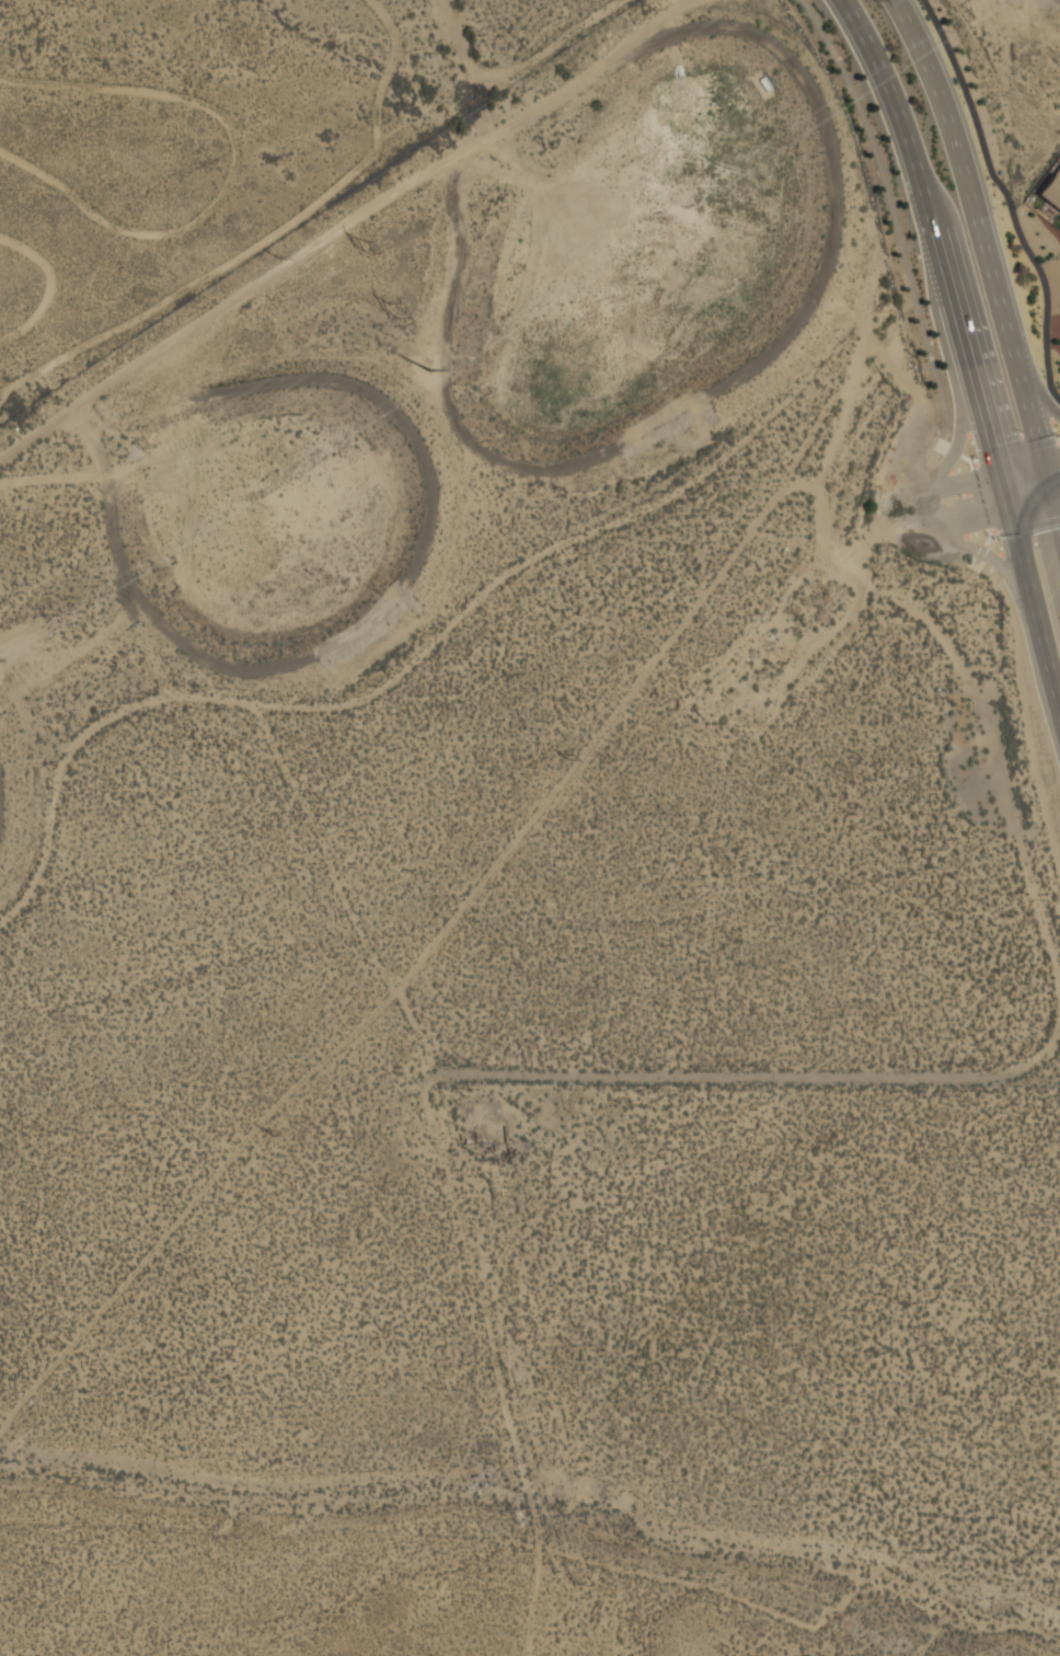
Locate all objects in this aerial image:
dam: (1053, 1)
power tower: (972, 3)
road: (910, 25)
building: (1052, 189)
road: (1007, 196)
road: (897, 218)
road: (935, 226)
power tower: (369, 249)
road: (999, 267)
dam: (827, 291)
power tower: (392, 312)
power tower: (428, 372)
power tower: (866, 372)
road: (1045, 399)
road: (960, 441)
traffic signals: (1049, 453)
road: (1028, 457)
traffic signals: (999, 464)
road: (947, 475)
dam: (438, 501)
road: (1035, 504)
traffic signals: (1010, 509)
road: (965, 519)
road: (917, 531)
road: (980, 554)
road: (1029, 588)
power tower: (563, 755)
dam: (7, 802)
power tower: (265, 1132)

